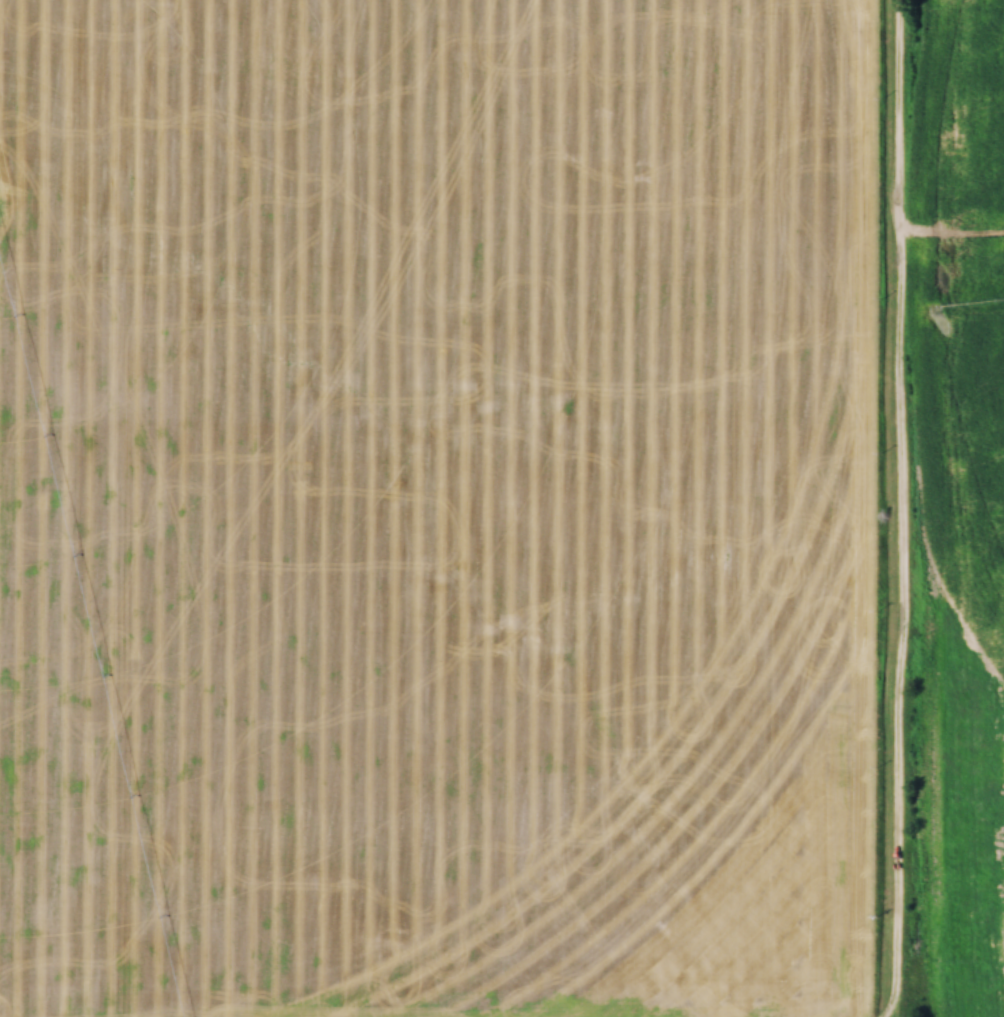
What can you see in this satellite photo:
road: (899, 508)

